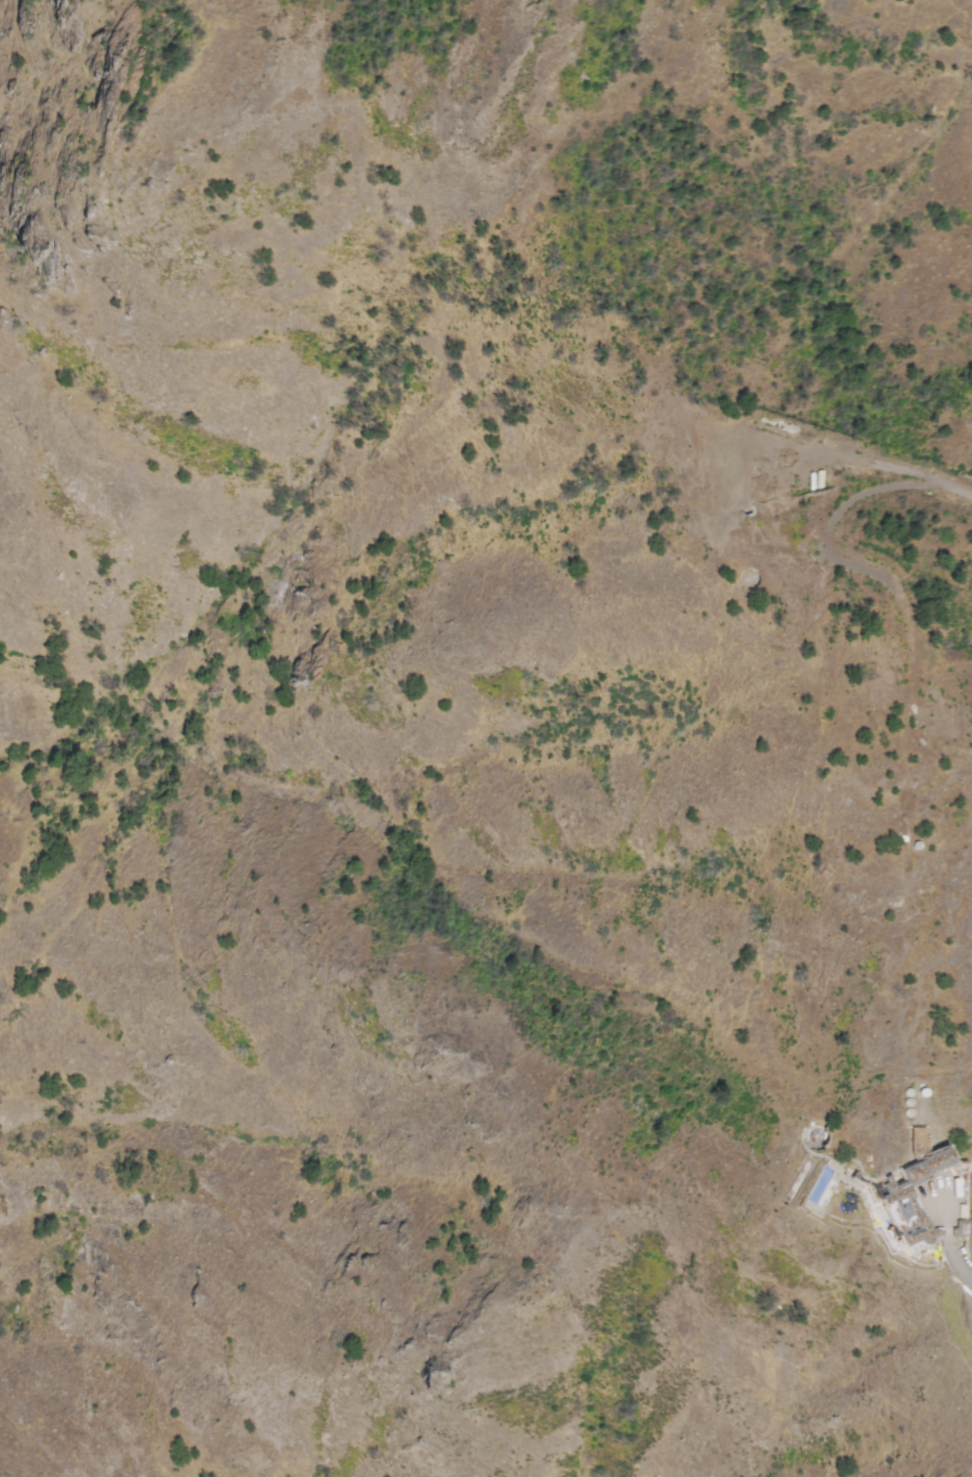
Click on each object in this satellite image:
road: (895, 468)
building: (906, 1196)
road: (962, 1276)

